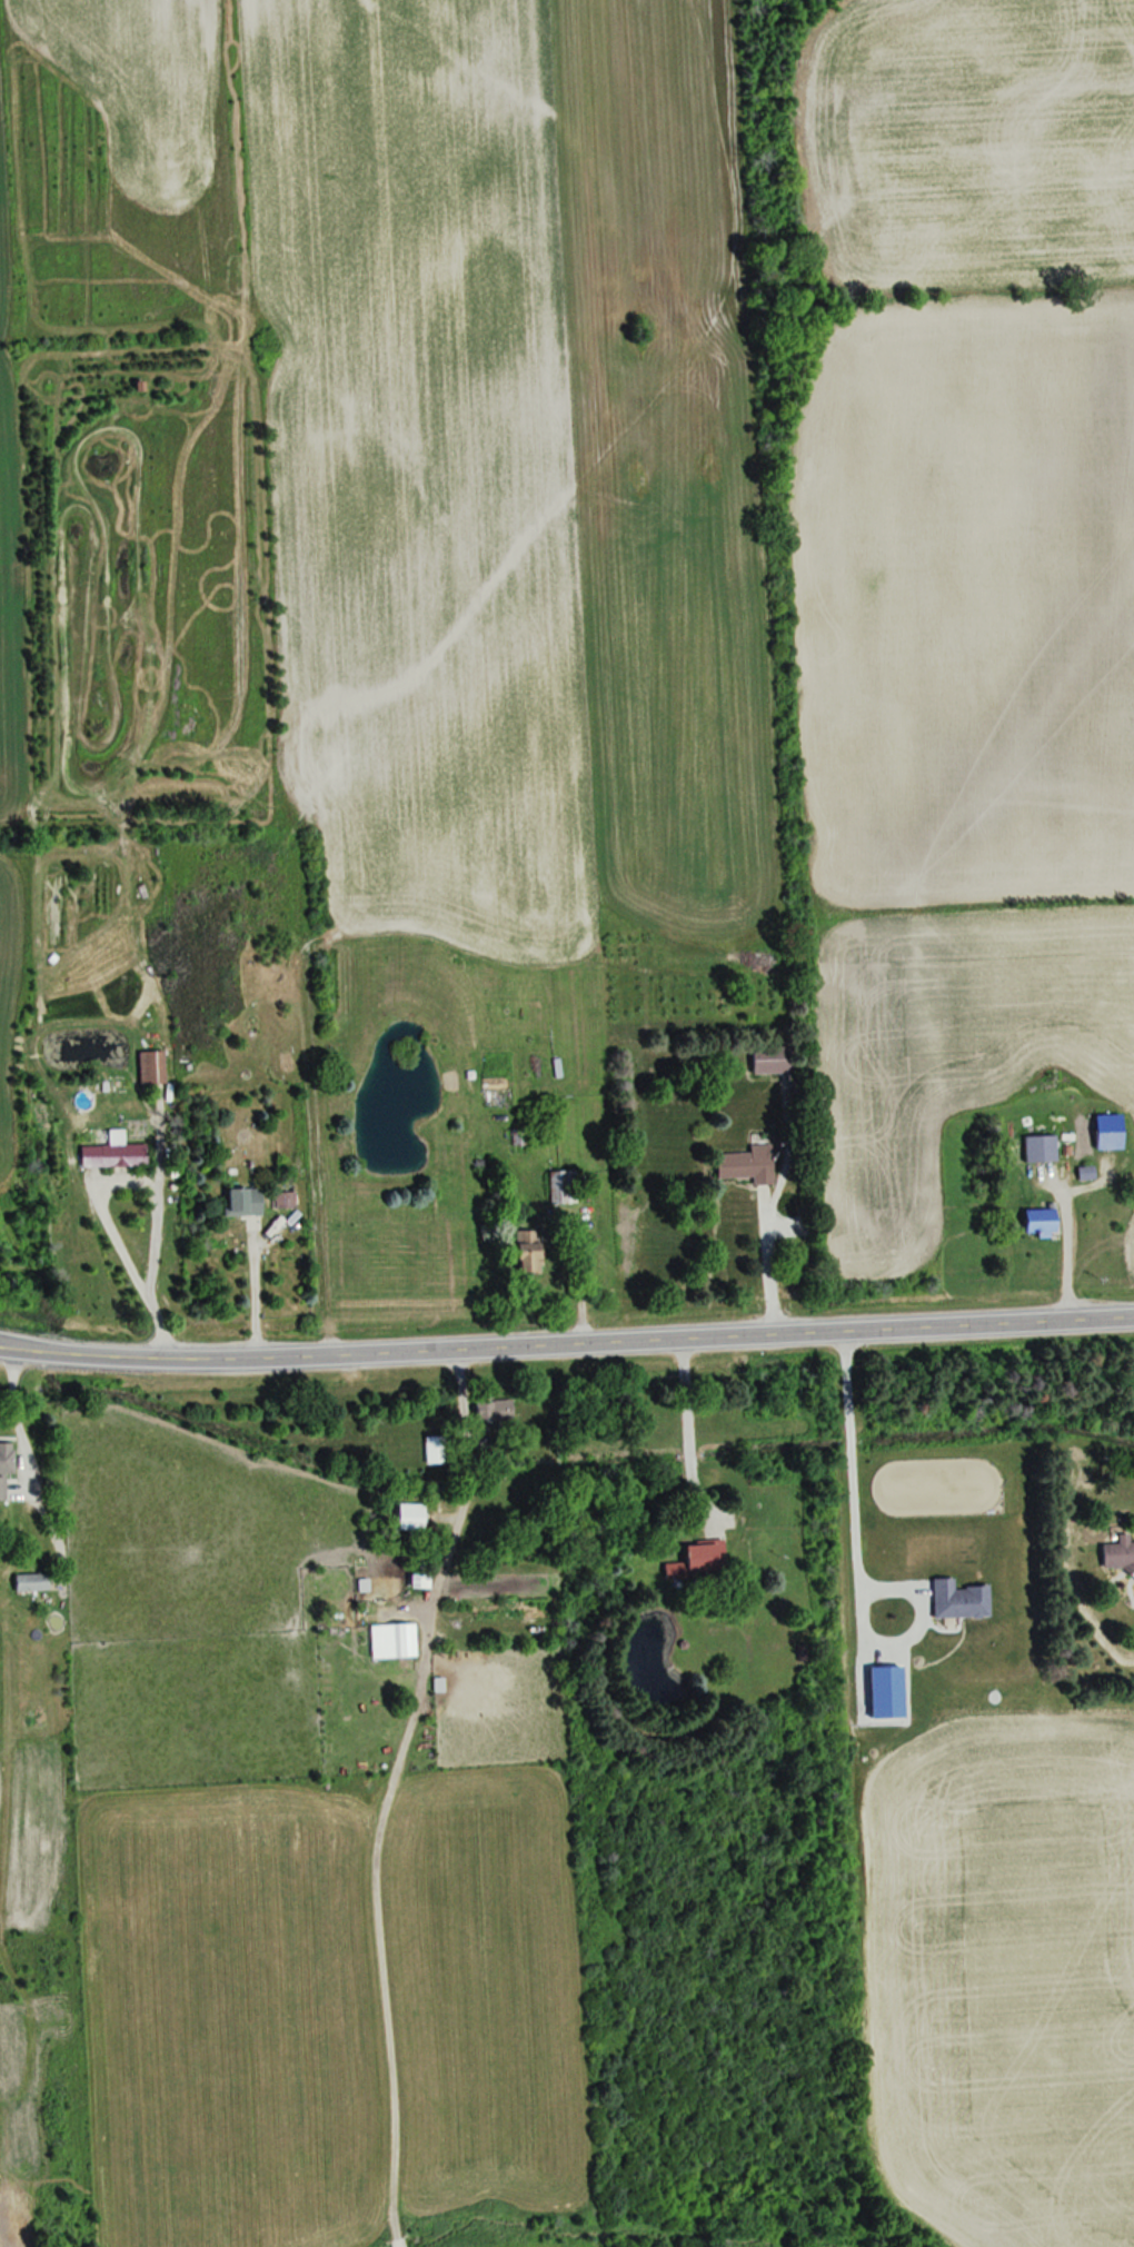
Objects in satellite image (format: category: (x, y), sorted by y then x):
building: (769, 1060)
building: (149, 1066)
building: (1037, 1147)
building: (112, 1153)
building: (746, 1164)
road: (151, 1186)
building: (560, 1186)
building: (282, 1200)
building: (241, 1201)
building: (1038, 1222)
building: (526, 1257)
road: (251, 1301)
road: (566, 1346)
road: (14, 1409)
building: (494, 1409)
road: (683, 1429)
building: (434, 1450)
building: (6, 1458)
road: (460, 1504)
building: (408, 1517)
building: (1117, 1554)
building: (703, 1555)
building: (417, 1581)
building: (29, 1582)
building: (956, 1600)
building: (391, 1641)
river: (527, 2238)

